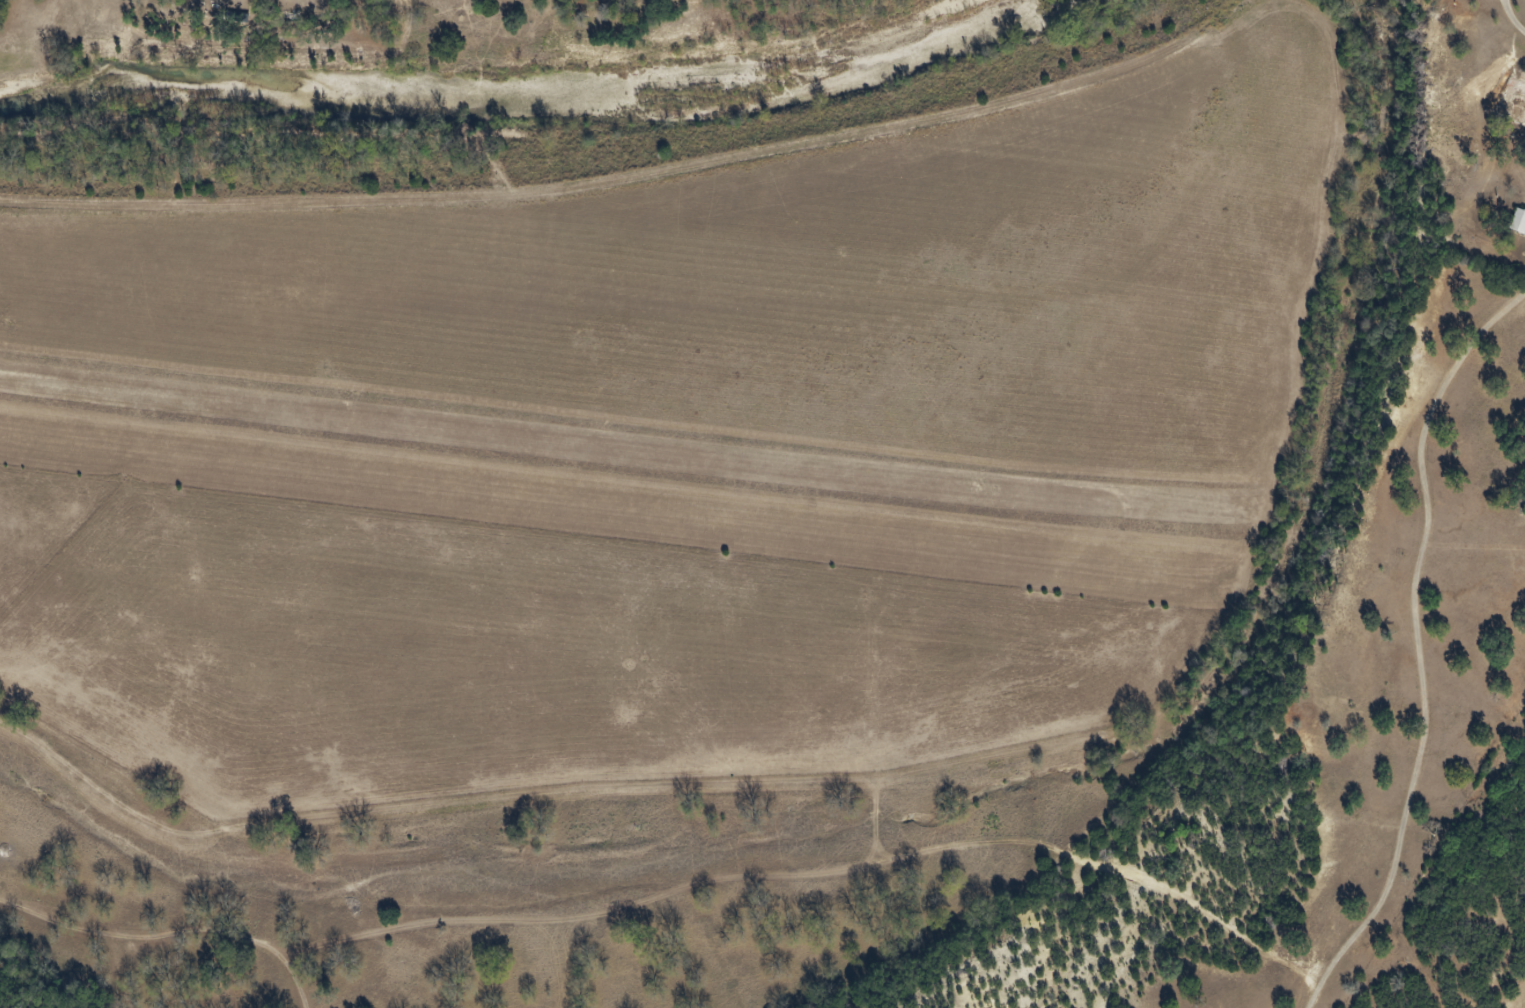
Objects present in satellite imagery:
road: (1511, 19)
river: (524, 92)
building: (1514, 106)
road: (671, 172)
building: (1513, 225)
airport runway: (657, 448)

